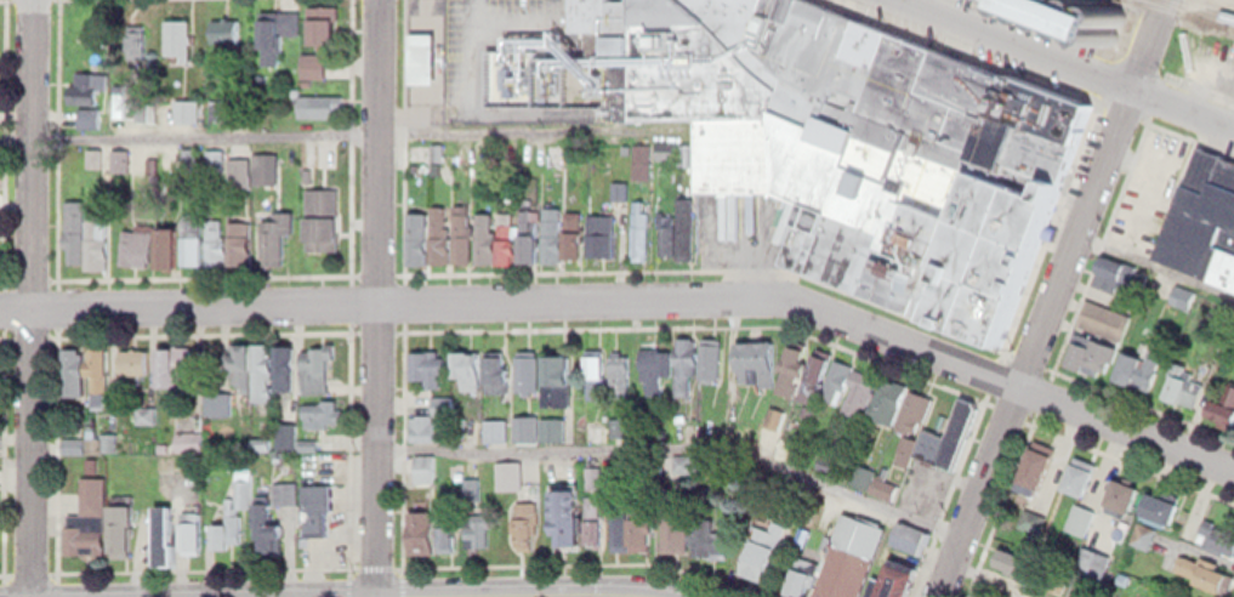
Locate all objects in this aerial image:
railway: (1207, 7)
railway: (1190, 12)
railway: (1183, 15)
building: (1076, 16)
building: (324, 18)
building: (226, 24)
building: (277, 28)
building: (178, 34)
building: (136, 35)
road: (1011, 42)
road: (1144, 42)
building: (0, 50)
building: (427, 57)
building: (318, 66)
building: (84, 81)
road: (1198, 84)
building: (319, 99)
road: (1179, 107)
building: (192, 110)
road: (511, 120)
road: (204, 130)
road: (17, 133)
road: (347, 135)
road: (402, 135)
building: (841, 136)
road: (5, 137)
road: (56, 137)
building: (269, 169)
building: (243, 172)
parking lot: (1145, 188)
building: (320, 212)
building: (1201, 214)
road: (1107, 218)
building: (681, 222)
building: (637, 224)
parking lot: (737, 224)
building: (75, 226)
building: (439, 227)
building: (461, 227)
building: (665, 227)
building: (416, 228)
building: (551, 228)
building: (573, 228)
building: (598, 228)
building: (483, 229)
building: (192, 231)
building: (274, 231)
building: (507, 232)
building: (527, 232)
building: (98, 233)
building: (216, 234)
building: (240, 234)
building: (166, 237)
road: (2, 238)
building: (137, 238)
road: (1154, 266)
road: (707, 267)
road: (375, 269)
building: (1118, 271)
road: (203, 273)
road: (2, 275)
road: (30, 277)
road: (633, 292)
road: (30, 297)
road: (402, 297)
building: (1183, 297)
road: (349, 298)
road: (376, 298)
road: (4, 303)
road: (56, 303)
building: (1102, 315)
road: (698, 322)
road: (375, 328)
road: (231, 329)
road: (29, 330)
road: (85, 330)
road: (1, 331)
road: (1031, 341)
building: (1090, 352)
building: (709, 353)
building: (755, 354)
building: (133, 357)
road: (1025, 357)
building: (683, 359)
building: (174, 362)
building: (284, 362)
building: (426, 362)
building: (789, 362)
building: (1137, 362)
building: (99, 363)
building: (314, 363)
building: (653, 363)
building: (591, 364)
building: (73, 365)
building: (237, 366)
building: (261, 366)
building: (467, 366)
building: (525, 368)
building: (495, 369)
building: (618, 369)
road: (990, 371)
building: (813, 373)
building: (556, 374)
building: (835, 376)
building: (1181, 382)
building: (857, 388)
road: (1041, 392)
building: (887, 394)
road: (1142, 402)
building: (1223, 402)
building: (912, 405)
road: (1006, 406)
building: (322, 409)
building: (146, 415)
building: (426, 427)
building: (620, 427)
building: (553, 428)
building: (496, 430)
building: (943, 433)
building: (73, 439)
road: (676, 439)
road: (400, 444)
road: (348, 445)
road: (2, 450)
road: (56, 450)
road: (1132, 457)
building: (1034, 462)
building: (1079, 467)
building: (426, 468)
building: (510, 476)
building: (593, 478)
building: (875, 483)
building: (1119, 490)
road: (944, 496)
building: (1158, 501)
building: (315, 502)
road: (1000, 507)
building: (564, 508)
building: (86, 514)
building: (592, 516)
building: (619, 519)
building: (1080, 519)
building: (121, 521)
building: (471, 523)
building: (523, 523)
building: (223, 524)
building: (445, 524)
building: (641, 524)
building: (420, 525)
building: (672, 525)
building: (163, 528)
building: (706, 528)
building: (189, 529)
building: (266, 529)
building: (1216, 531)
building: (1144, 536)
building: (760, 547)
building: (1018, 558)
road: (373, 561)
road: (580, 561)
building: (1093, 562)
road: (201, 565)
building: (1205, 567)
road: (1, 569)
road: (29, 569)
building: (840, 569)
building: (797, 575)
building: (889, 575)
road: (402, 579)
road: (347, 580)
road: (2, 582)
road: (56, 582)
road: (527, 595)

